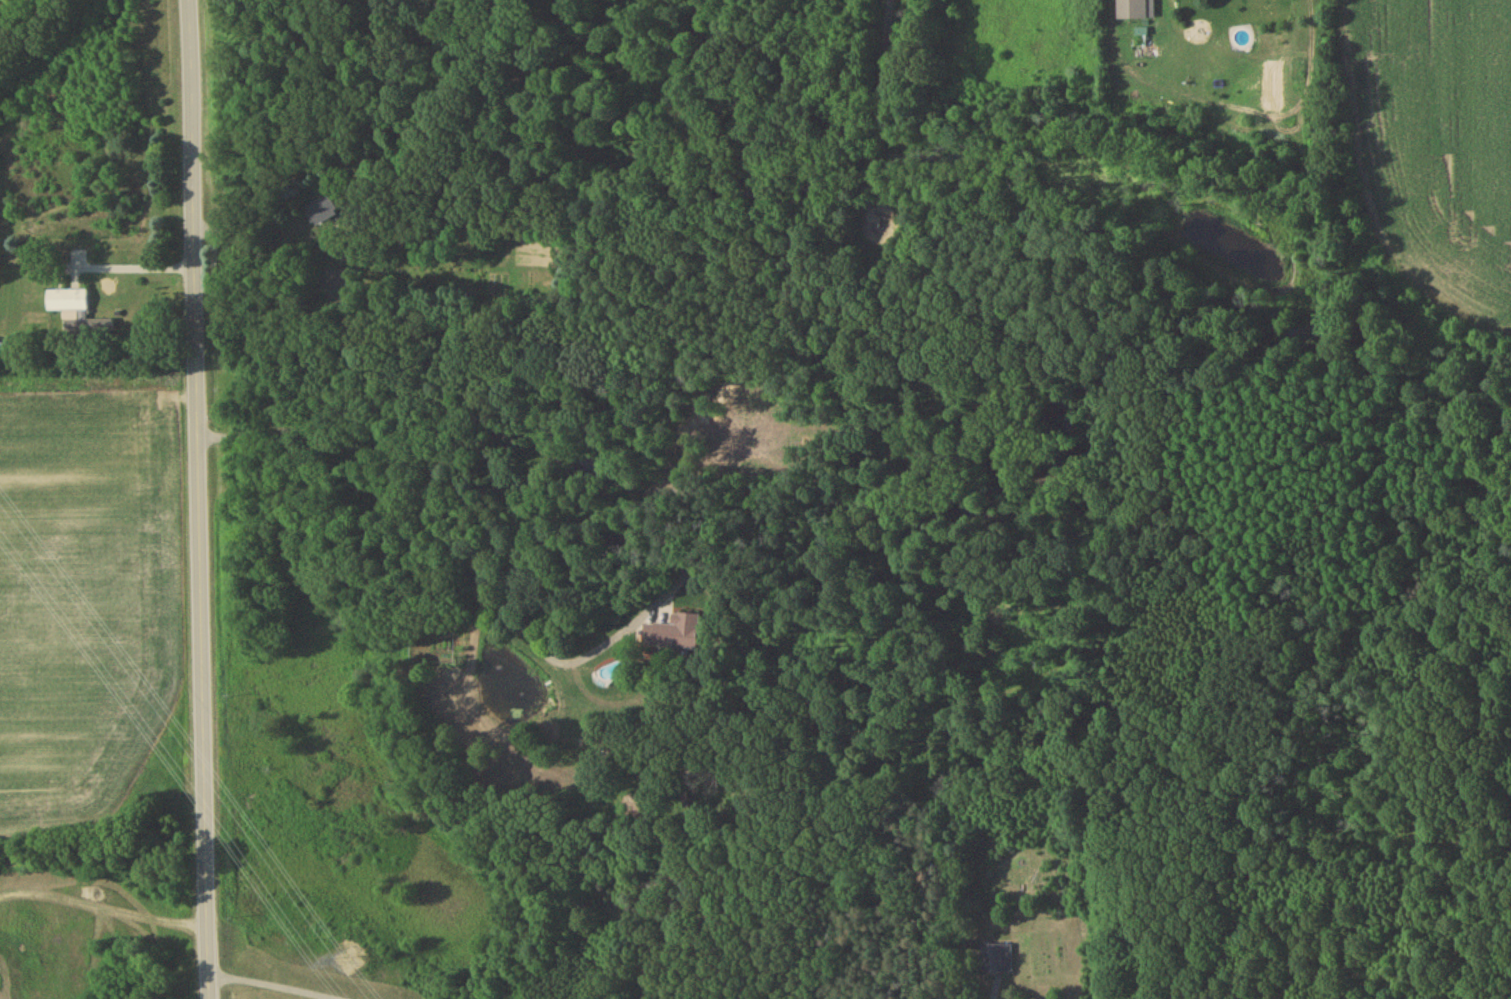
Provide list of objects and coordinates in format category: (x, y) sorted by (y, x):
building: (1132, 11)
road: (878, 112)
building: (321, 212)
road: (134, 270)
building: (66, 302)
building: (2, 355)
road: (197, 499)
road: (467, 521)
building: (675, 636)
power tower: (348, 959)
building: (996, 962)
road: (271, 987)

